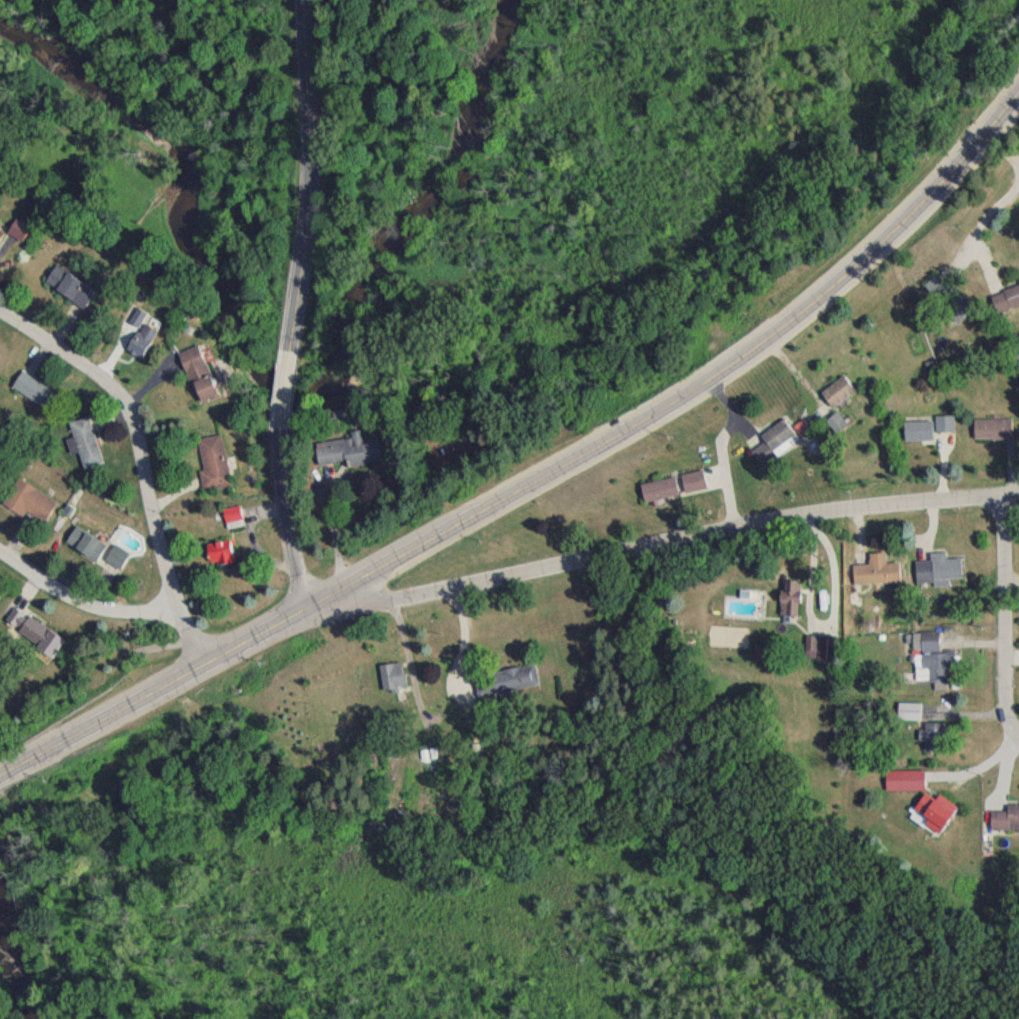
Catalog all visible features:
road: (999, 151)
road: (309, 177)
road: (986, 222)
building: (16, 235)
building: (0, 239)
building: (68, 291)
building: (945, 303)
building: (1004, 303)
building: (136, 340)
building: (196, 378)
road: (281, 394)
building: (33, 395)
building: (835, 397)
road: (137, 425)
building: (834, 428)
building: (942, 429)
building: (989, 433)
building: (915, 436)
building: (771, 447)
building: (83, 448)
road: (720, 450)
building: (346, 455)
building: (211, 467)
road: (541, 477)
building: (691, 487)
building: (656, 494)
building: (26, 507)
building: (229, 519)
road: (285, 524)
road: (674, 542)
building: (83, 549)
building: (217, 557)
building: (114, 562)
building: (936, 574)
building: (873, 577)
road: (77, 597)
building: (787, 603)
road: (1005, 612)
building: (27, 636)
road: (184, 639)
building: (818, 653)
building: (928, 662)
building: (390, 682)
building: (503, 685)
building: (931, 742)
building: (929, 807)
building: (1004, 825)

